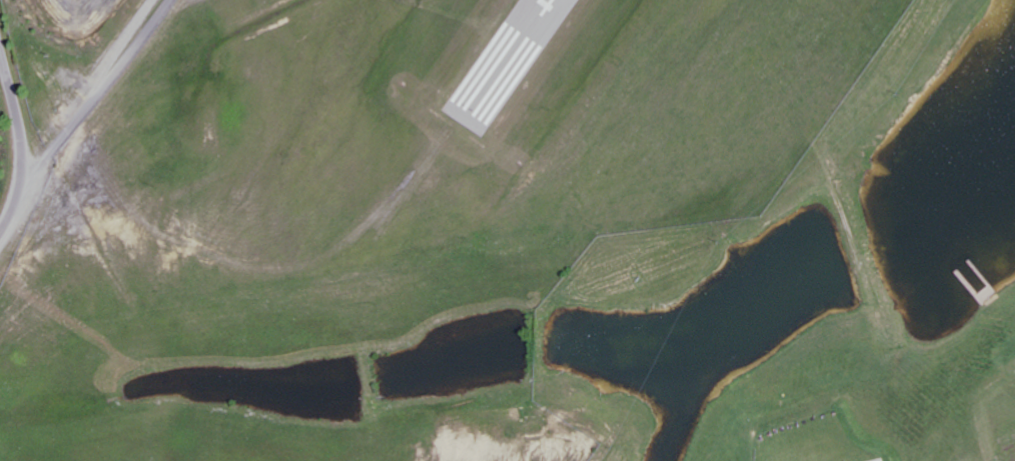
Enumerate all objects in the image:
airport runway: (503, 60)
road: (99, 93)
road: (21, 142)
airport: (370, 206)

